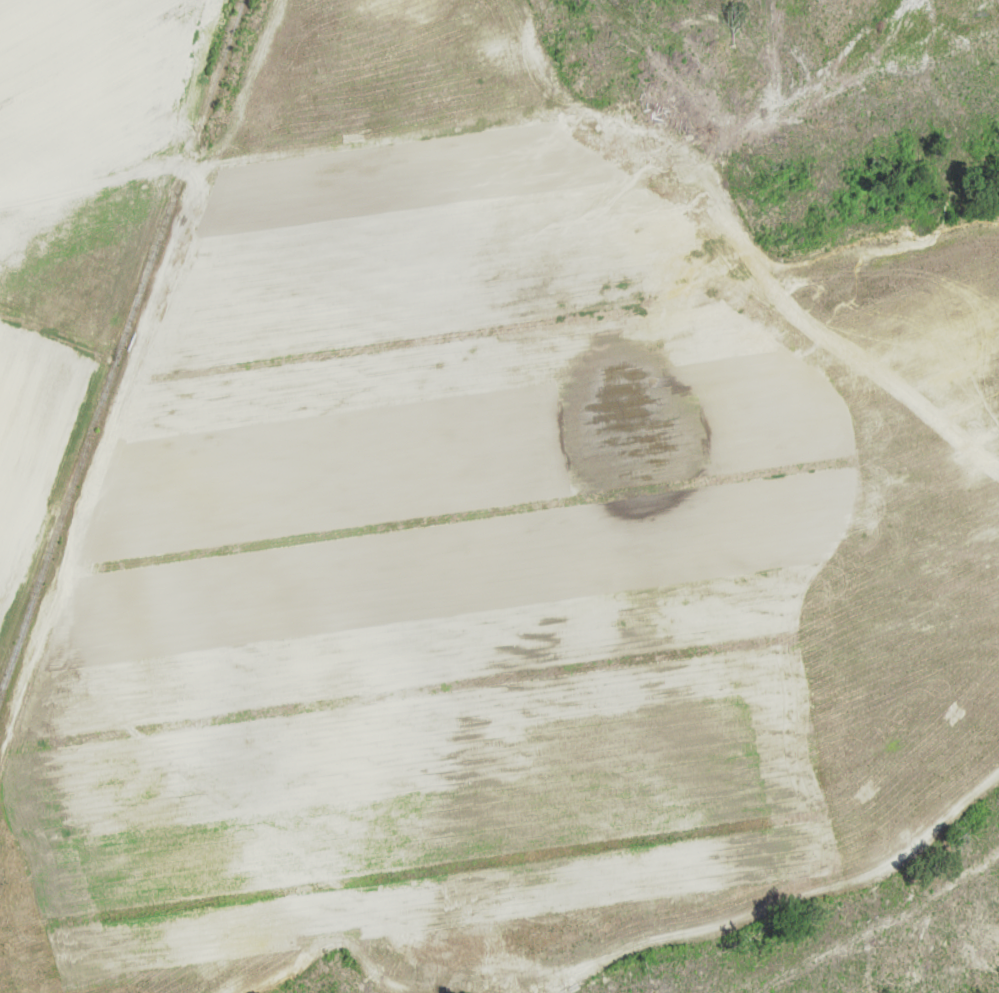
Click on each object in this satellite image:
railway: (117, 342)

